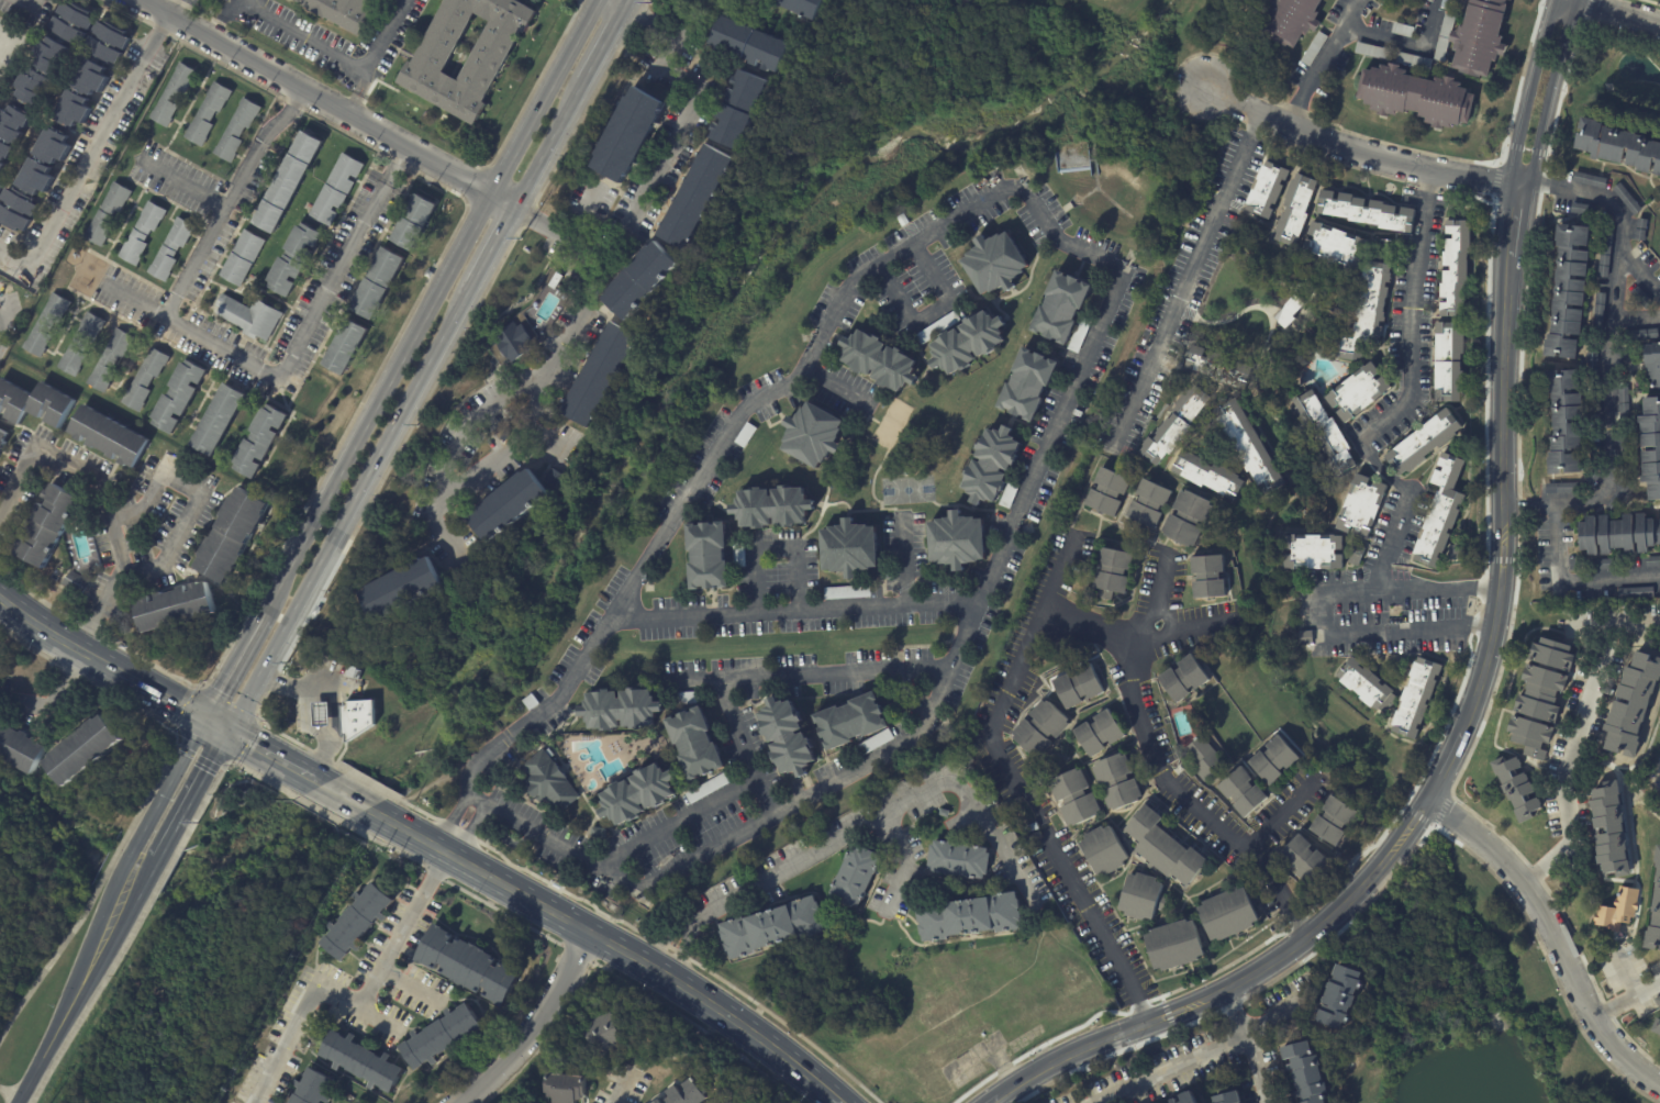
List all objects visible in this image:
road: (33, 2)
road: (38, 2)
road: (1651, 2)
road: (613, 5)
road: (628, 5)
building: (801, 7)
road: (1619, 10)
building: (338, 11)
road: (224, 19)
building: (1292, 20)
building: (73, 23)
road: (651, 25)
building: (1404, 30)
road: (305, 37)
building: (1446, 37)
building: (1481, 37)
building: (108, 42)
road: (1408, 42)
building: (750, 44)
road: (606, 48)
building: (1315, 48)
building: (1373, 52)
building: (46, 54)
road: (379, 57)
building: (1415, 60)
road: (1322, 62)
fountain: (1636, 64)
building: (425, 67)
building: (92, 78)
building: (34, 87)
road: (1529, 91)
road: (1553, 93)
building: (174, 94)
road: (313, 96)
road: (543, 96)
building: (1417, 96)
building: (76, 108)
building: (743, 110)
building: (208, 113)
building: (14, 124)
building: (236, 130)
building: (630, 135)
road: (100, 140)
building: (55, 145)
building: (1618, 145)
road: (553, 147)
road: (1360, 151)
road: (670, 153)
building: (4, 155)
building: (36, 177)
building: (1587, 178)
building: (288, 182)
road: (187, 186)
building: (1, 188)
building: (336, 189)
building: (1268, 190)
building: (697, 199)
building: (1626, 199)
road: (231, 200)
road: (504, 201)
building: (1582, 208)
building: (16, 209)
building: (1296, 210)
building: (1368, 211)
building: (107, 213)
road: (584, 213)
building: (903, 220)
building: (414, 221)
road: (1516, 224)
building: (1639, 229)
building: (142, 232)
building: (1383, 245)
building: (1336, 247)
building: (170, 248)
road: (498, 248)
building: (1605, 252)
building: (242, 258)
road: (14, 259)
building: (293, 259)
road: (344, 264)
building: (994, 264)
building: (1457, 269)
road: (1640, 274)
road: (1189, 278)
building: (642, 280)
road: (1119, 281)
building: (377, 283)
building: (1567, 290)
building: (1641, 297)
building: (1061, 308)
building: (1292, 311)
building: (1598, 311)
building: (1368, 312)
road: (936, 315)
building: (249, 317)
road: (1636, 317)
road: (1224, 320)
road: (4, 321)
building: (45, 325)
road: (182, 326)
building: (1640, 333)
building: (1078, 337)
building: (513, 342)
building: (967, 343)
building: (79, 344)
building: (345, 347)
road: (1608, 350)
building: (109, 359)
road: (559, 359)
building: (879, 361)
building: (1451, 363)
building: (1591, 365)
building: (1651, 366)
building: (1219, 368)
building: (602, 376)
building: (144, 378)
building: (1027, 385)
road: (837, 387)
building: (1359, 392)
building: (177, 395)
road: (1407, 400)
building: (1623, 400)
building: (34, 403)
building: (1193, 403)
road: (371, 406)
building: (216, 420)
building: (1562, 421)
building: (813, 435)
building: (1326, 435)
building: (110, 436)
road: (547, 438)
building: (2, 439)
building: (258, 439)
building: (1166, 441)
building: (1625, 443)
road: (457, 445)
building: (1426, 445)
building: (1650, 446)
building: (1249, 448)
building: (990, 467)
building: (1208, 477)
building: (1591, 478)
road: (181, 486)
road: (19, 487)
building: (1561, 487)
building: (1620, 490)
building: (1107, 492)
road: (101, 494)
building: (1007, 494)
building: (1150, 504)
building: (508, 506)
road: (144, 508)
building: (772, 508)
building: (1363, 509)
road: (354, 510)
building: (1441, 514)
building: (1189, 520)
building: (47, 530)
building: (1618, 534)
building: (231, 535)
road: (1504, 541)
building: (957, 542)
road: (778, 550)
building: (849, 550)
building: (1315, 554)
building: (1458, 555)
building: (1358, 556)
building: (709, 558)
building: (1652, 560)
road: (906, 562)
building: (1598, 564)
road: (136, 569)
building: (482, 575)
building: (1113, 575)
building: (1453, 577)
building: (1210, 579)
road: (1569, 582)
building: (75, 583)
building: (400, 589)
building: (846, 592)
building: (1634, 592)
road: (1317, 606)
building: (174, 608)
road: (798, 611)
road: (58, 639)
road: (1135, 642)
road: (230, 671)
road: (809, 677)
building: (1184, 679)
building: (1079, 686)
building: (1367, 686)
road: (161, 698)
building: (1416, 698)
building: (1542, 698)
road: (25, 700)
road: (333, 700)
building: (1634, 708)
building: (621, 709)
building: (319, 715)
gas station: (319, 715)
building: (357, 718)
road: (304, 720)
traffic signals: (203, 721)
building: (851, 721)
building: (1041, 726)
road: (218, 727)
building: (1100, 731)
traffic signals: (232, 735)
building: (787, 736)
building: (874, 740)
building: (695, 743)
building: (20, 748)
road: (1572, 748)
road: (746, 749)
building: (83, 750)
road: (271, 757)
building: (1204, 757)
building: (1274, 758)
road: (1166, 769)
road: (163, 770)
road: (171, 780)
building: (1118, 781)
road: (317, 782)
building: (549, 782)
building: (708, 787)
road: (1022, 787)
building: (1517, 788)
building: (1244, 791)
road: (197, 792)
building: (247, 794)
building: (637, 794)
building: (1076, 796)
road: (345, 798)
road: (477, 802)
building: (944, 813)
road: (1282, 818)
road: (888, 820)
building: (1334, 820)
road: (681, 822)
road: (453, 824)
building: (598, 832)
building: (1613, 832)
road: (469, 834)
building: (1165, 847)
building: (1104, 849)
building: (959, 858)
building: (1303, 859)
building: (1658, 859)
road: (113, 860)
road: (906, 865)
road: (124, 867)
building: (855, 876)
road: (145, 878)
building: (1144, 895)
building: (1228, 913)
building: (1619, 913)
building: (970, 916)
building: (357, 922)
building: (1653, 926)
building: (771, 928)
road: (404, 933)
road: (667, 939)
road: (1550, 939)
road: (97, 940)
road: (606, 942)
building: (1174, 944)
road: (105, 946)
road: (681, 952)
road: (48, 965)
building: (468, 966)
road: (1625, 969)
road: (1239, 983)
road: (412, 985)
building: (1340, 995)
road: (1626, 999)
road: (310, 1005)
road: (537, 1026)
building: (1657, 1029)
building: (605, 1034)
building: (441, 1035)
road: (52, 1044)
road: (1250, 1045)
building: (361, 1063)
road: (1179, 1071)
building: (1306, 1072)
building: (566, 1088)
building: (311, 1089)
road: (624, 1091)
building: (687, 1093)
building: (1186, 1098)
building: (1228, 1098)
road: (837, 1099)
road: (995, 1099)
building: (1172, 1101)
building: (657, 1102)

